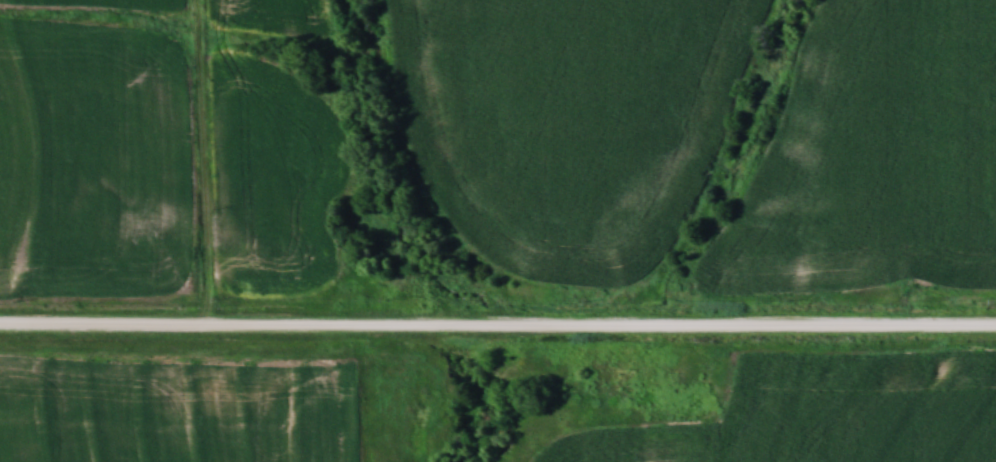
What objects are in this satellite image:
road: (497, 326)

